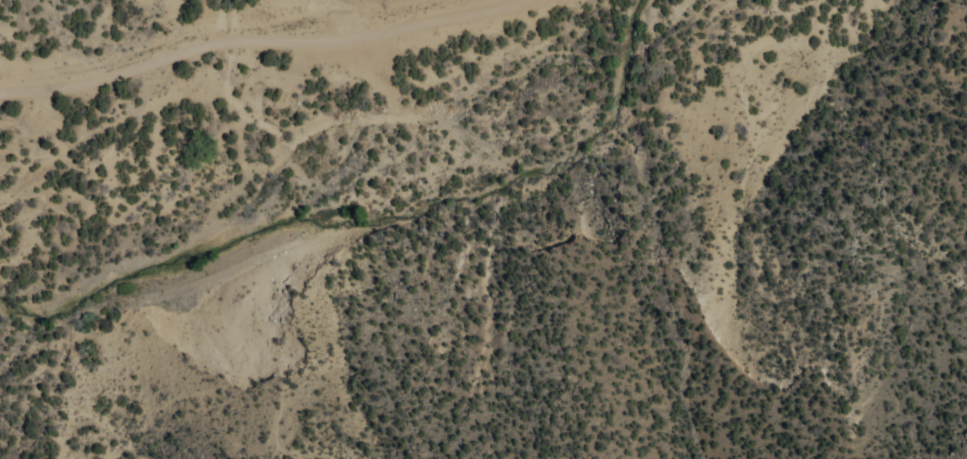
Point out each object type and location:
road: (261, 42)

